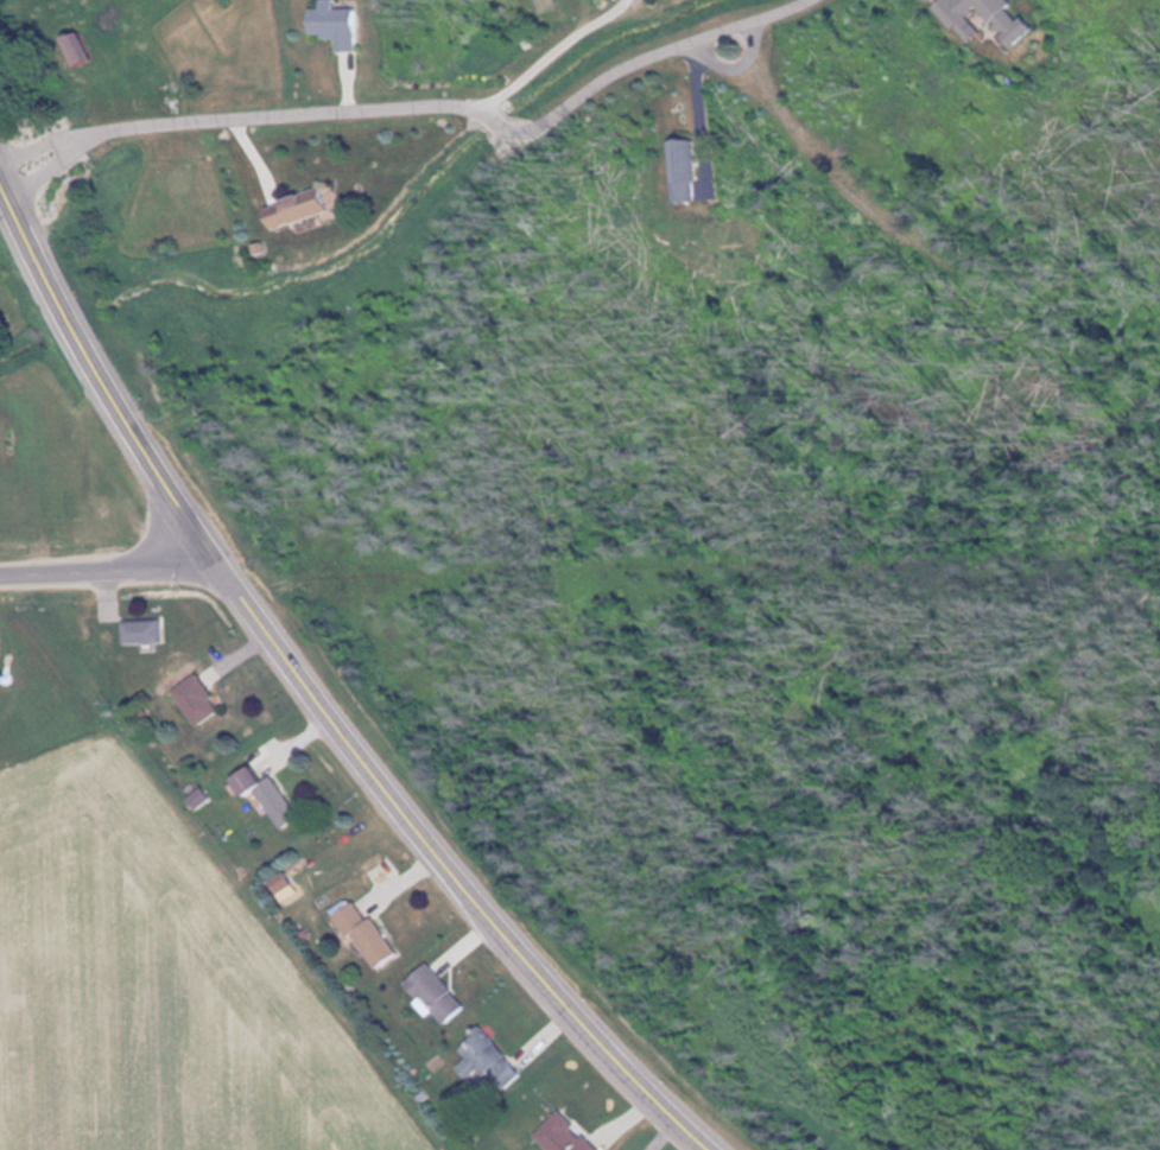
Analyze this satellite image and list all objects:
building: (1000, 15)
building: (342, 23)
building: (83, 49)
road: (417, 104)
building: (690, 165)
building: (306, 207)
road: (103, 370)
road: (109, 566)
building: (147, 630)
water tower: (6, 676)
building: (57, 676)
building: (205, 698)
building: (280, 795)
road: (452, 868)
building: (290, 881)
building: (374, 934)
building: (445, 992)
building: (500, 1059)
building: (578, 1135)

